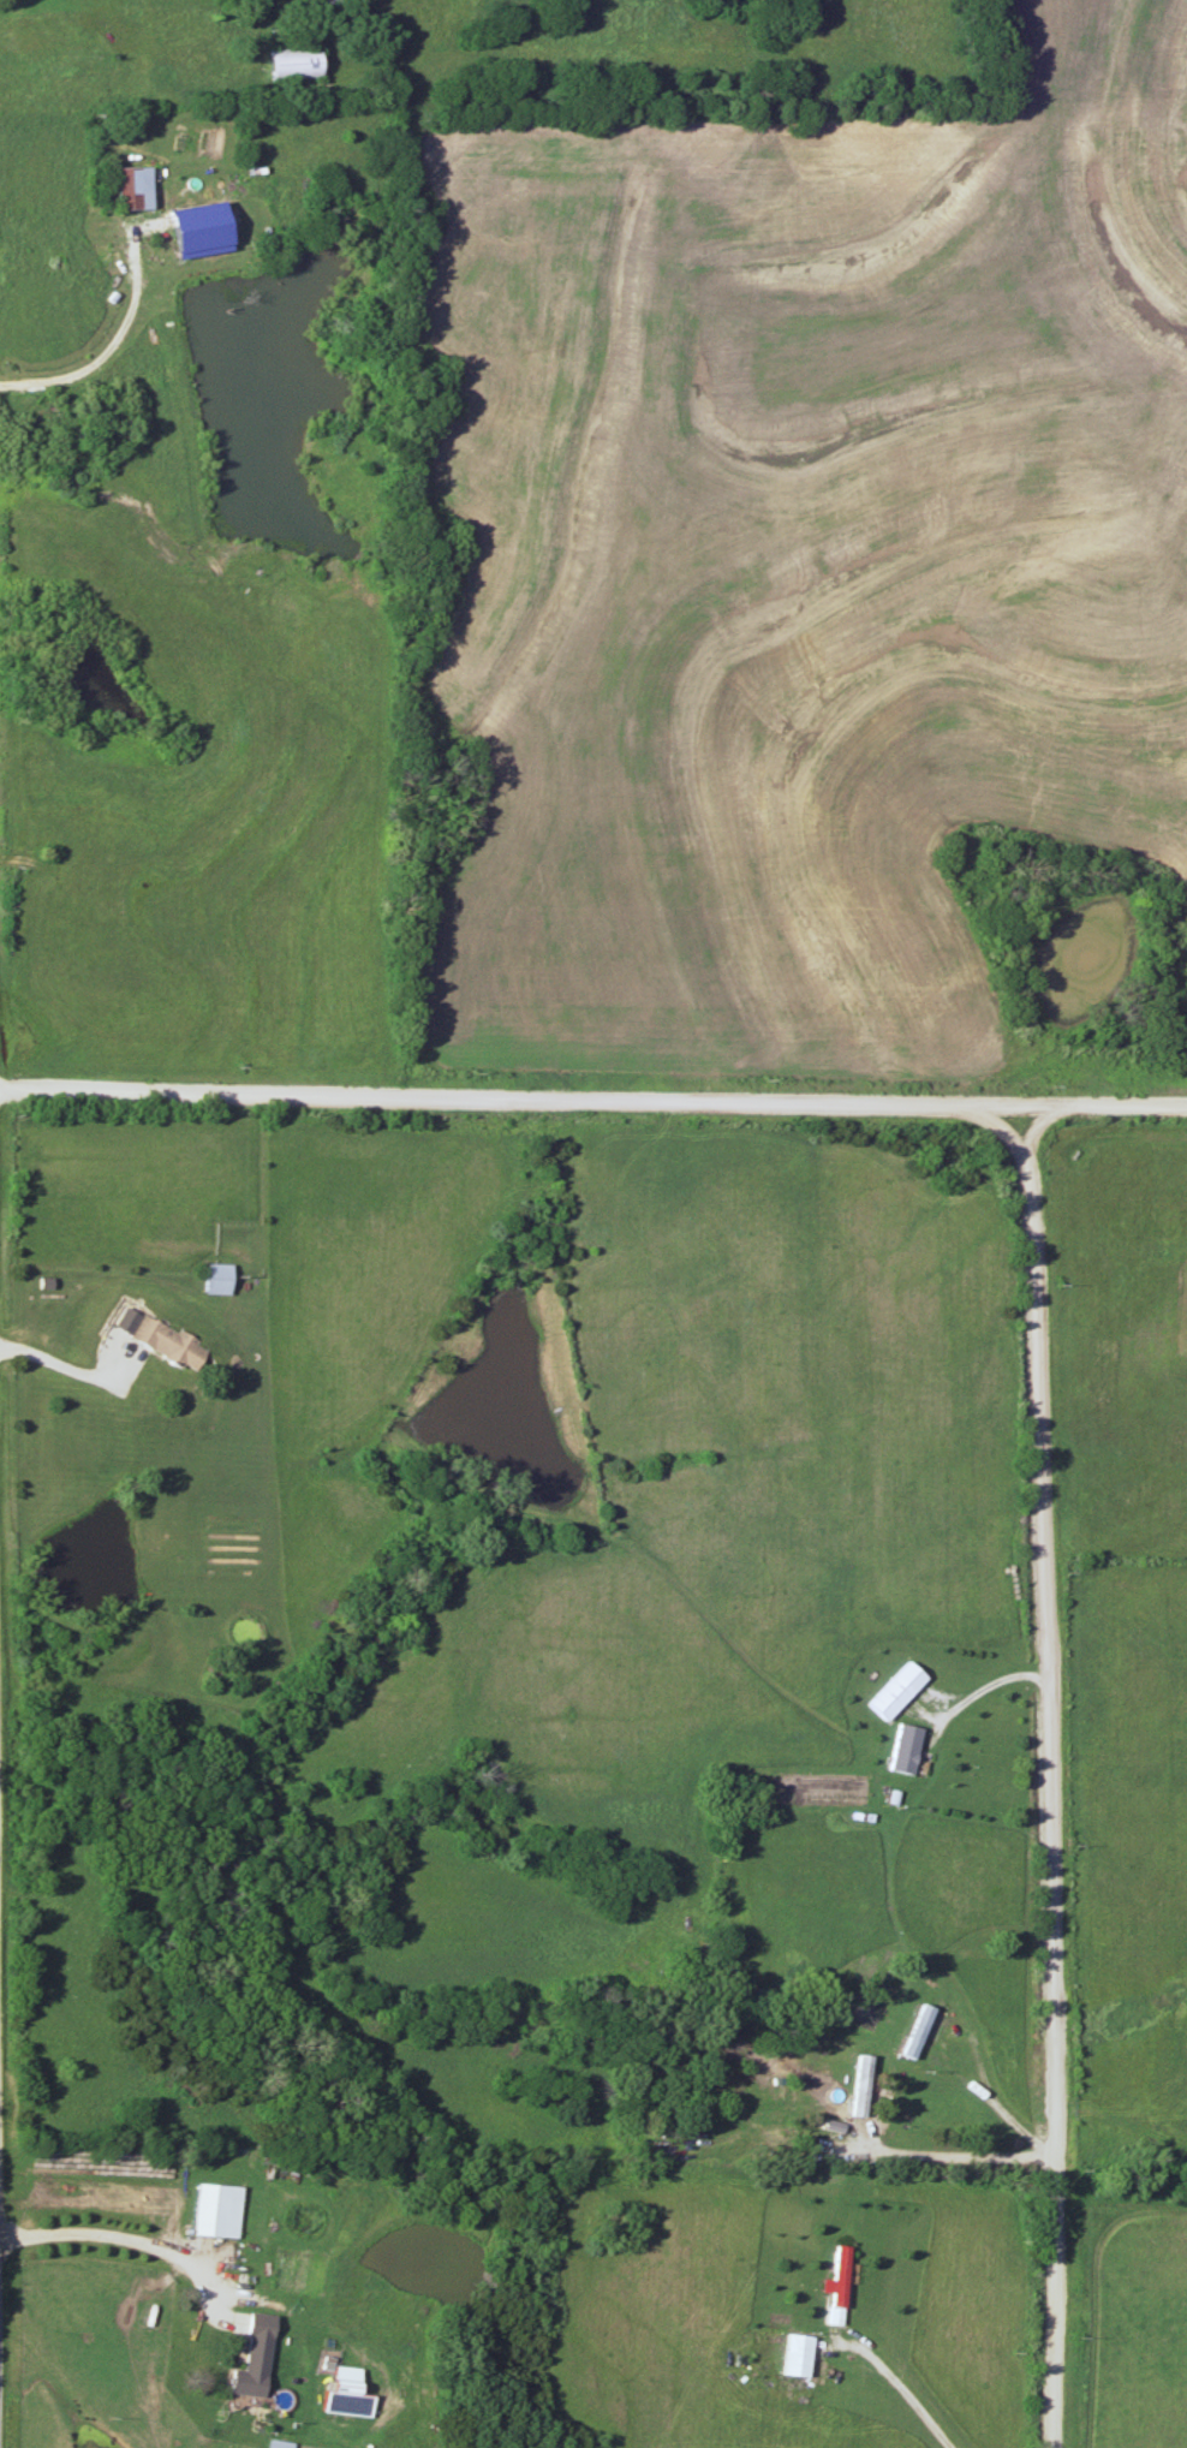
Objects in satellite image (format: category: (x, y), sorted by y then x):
building: (292, 64)
building: (133, 189)
road: (94, 359)
road: (593, 1101)
building: (219, 1279)
building: (169, 1342)
road: (78, 1369)
building: (889, 1698)
road: (962, 1707)
building: (905, 1750)
road: (1056, 1777)
building: (748, 1936)
building: (918, 2032)
road: (991, 2099)
road: (950, 2156)
building: (215, 2211)
road: (137, 2242)
building: (839, 2277)
building: (833, 2319)
building: (795, 2355)
building: (253, 2358)
road: (903, 2390)
building: (280, 2444)

